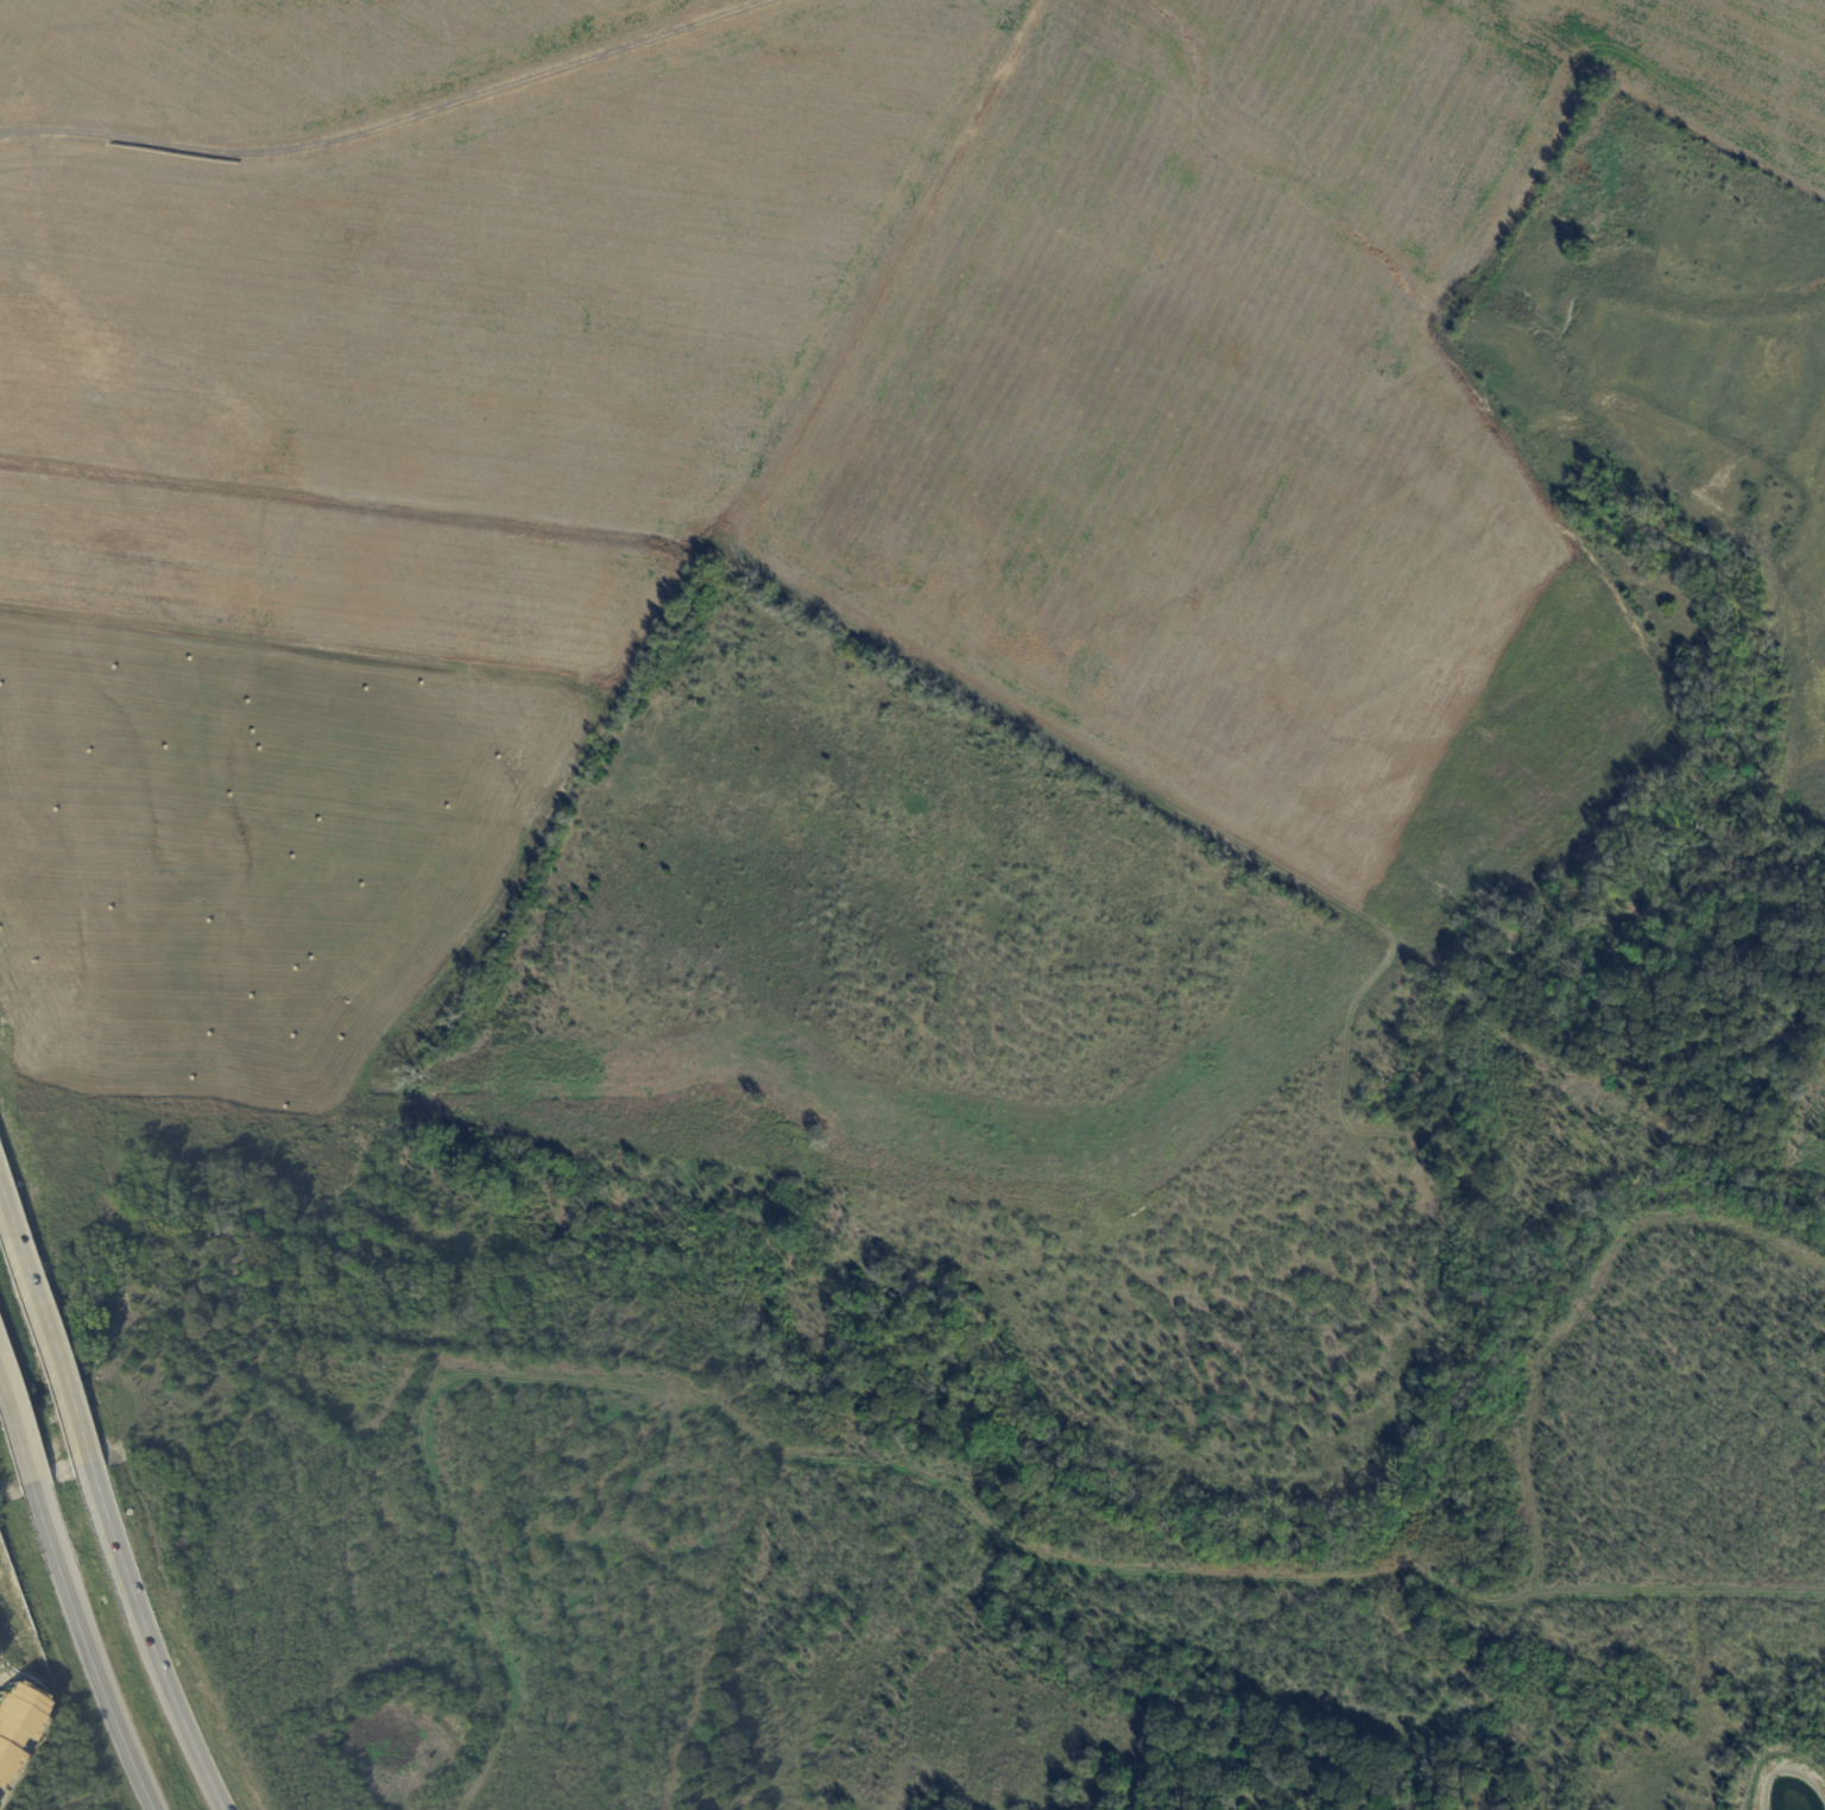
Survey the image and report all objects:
road: (45, 1338)
road: (19, 1438)
road: (151, 1645)
road: (93, 1653)
building: (18, 1722)

